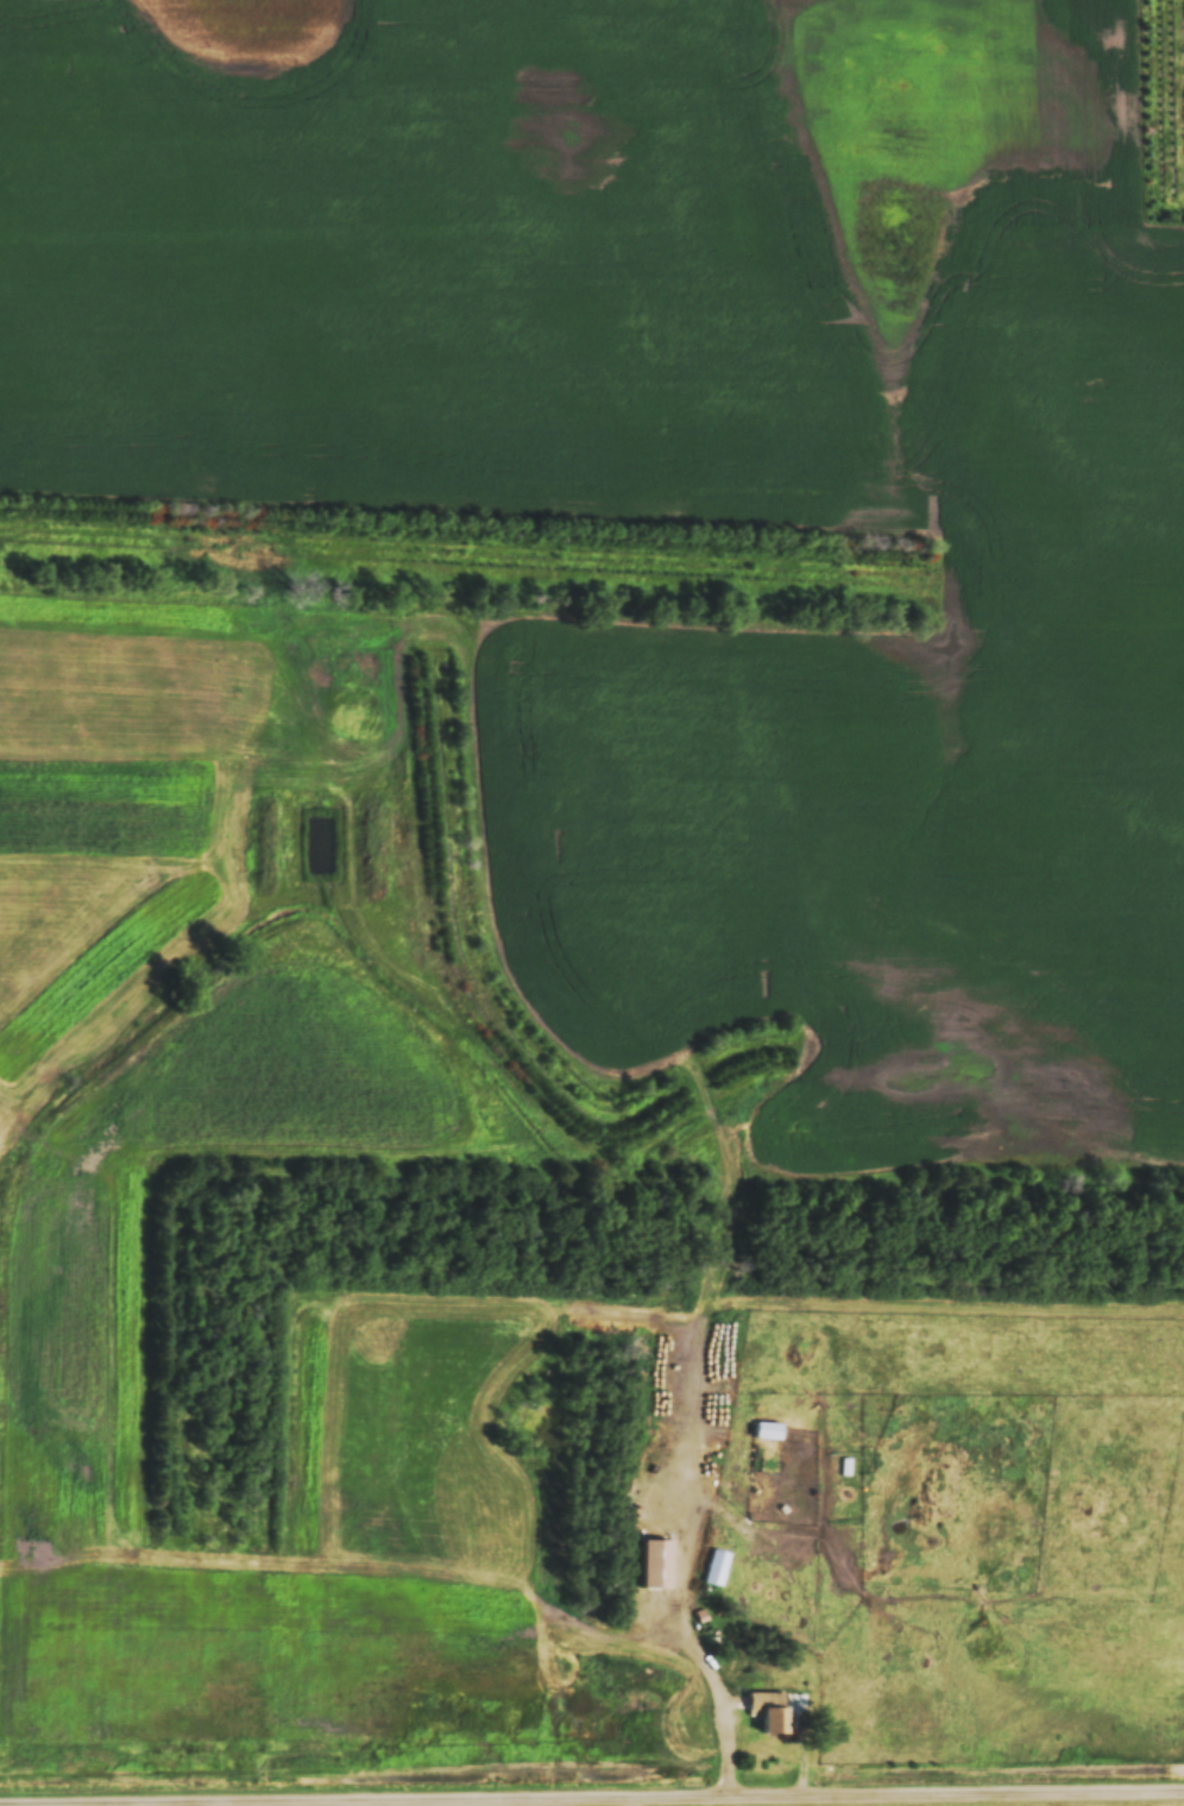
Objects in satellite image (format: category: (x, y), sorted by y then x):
building: (767, 1429)
building: (653, 1562)
building: (714, 1567)
road: (698, 1654)
building: (767, 1711)
road: (591, 1791)

